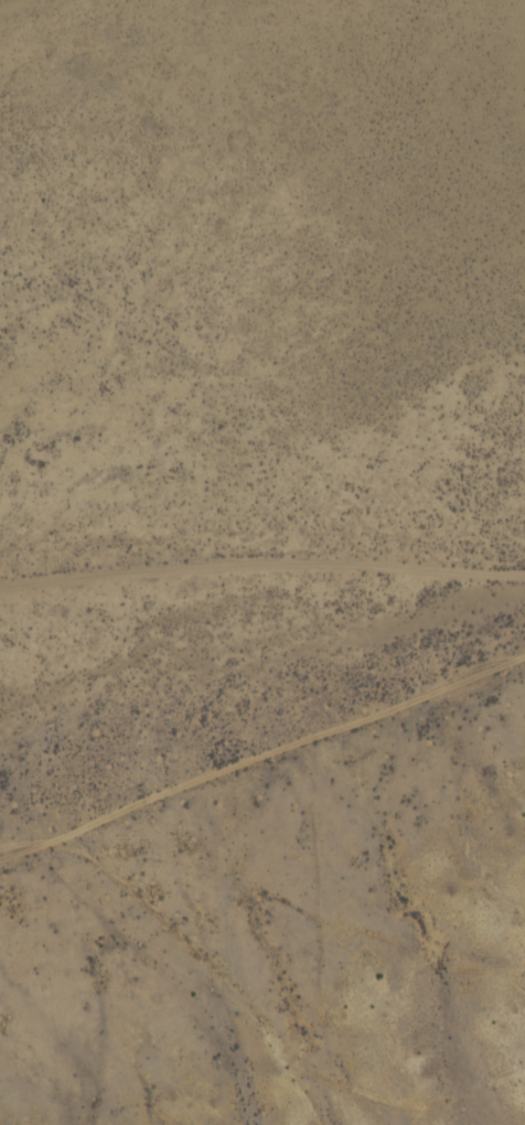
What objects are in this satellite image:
road: (261, 853)

